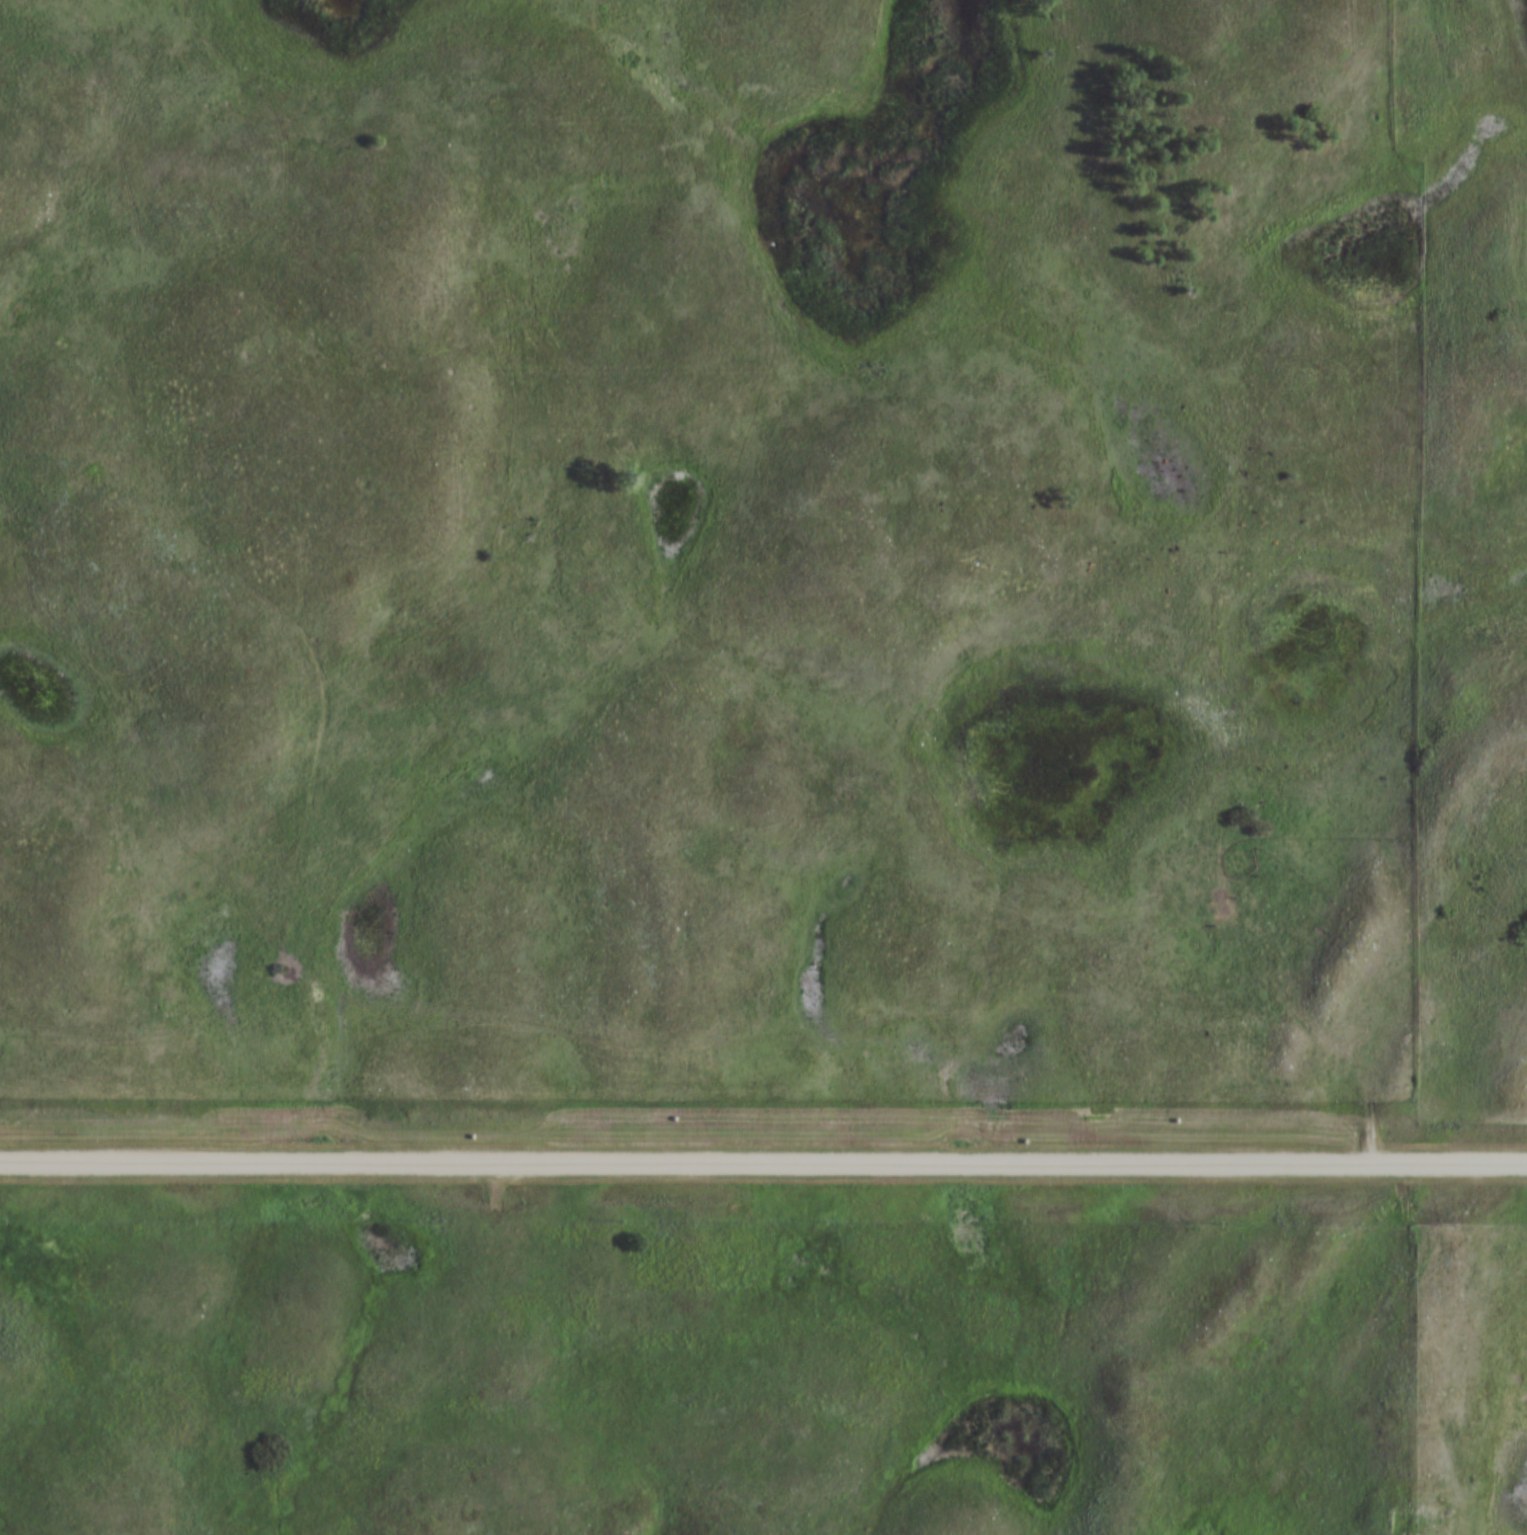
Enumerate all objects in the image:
road: (763, 1162)

